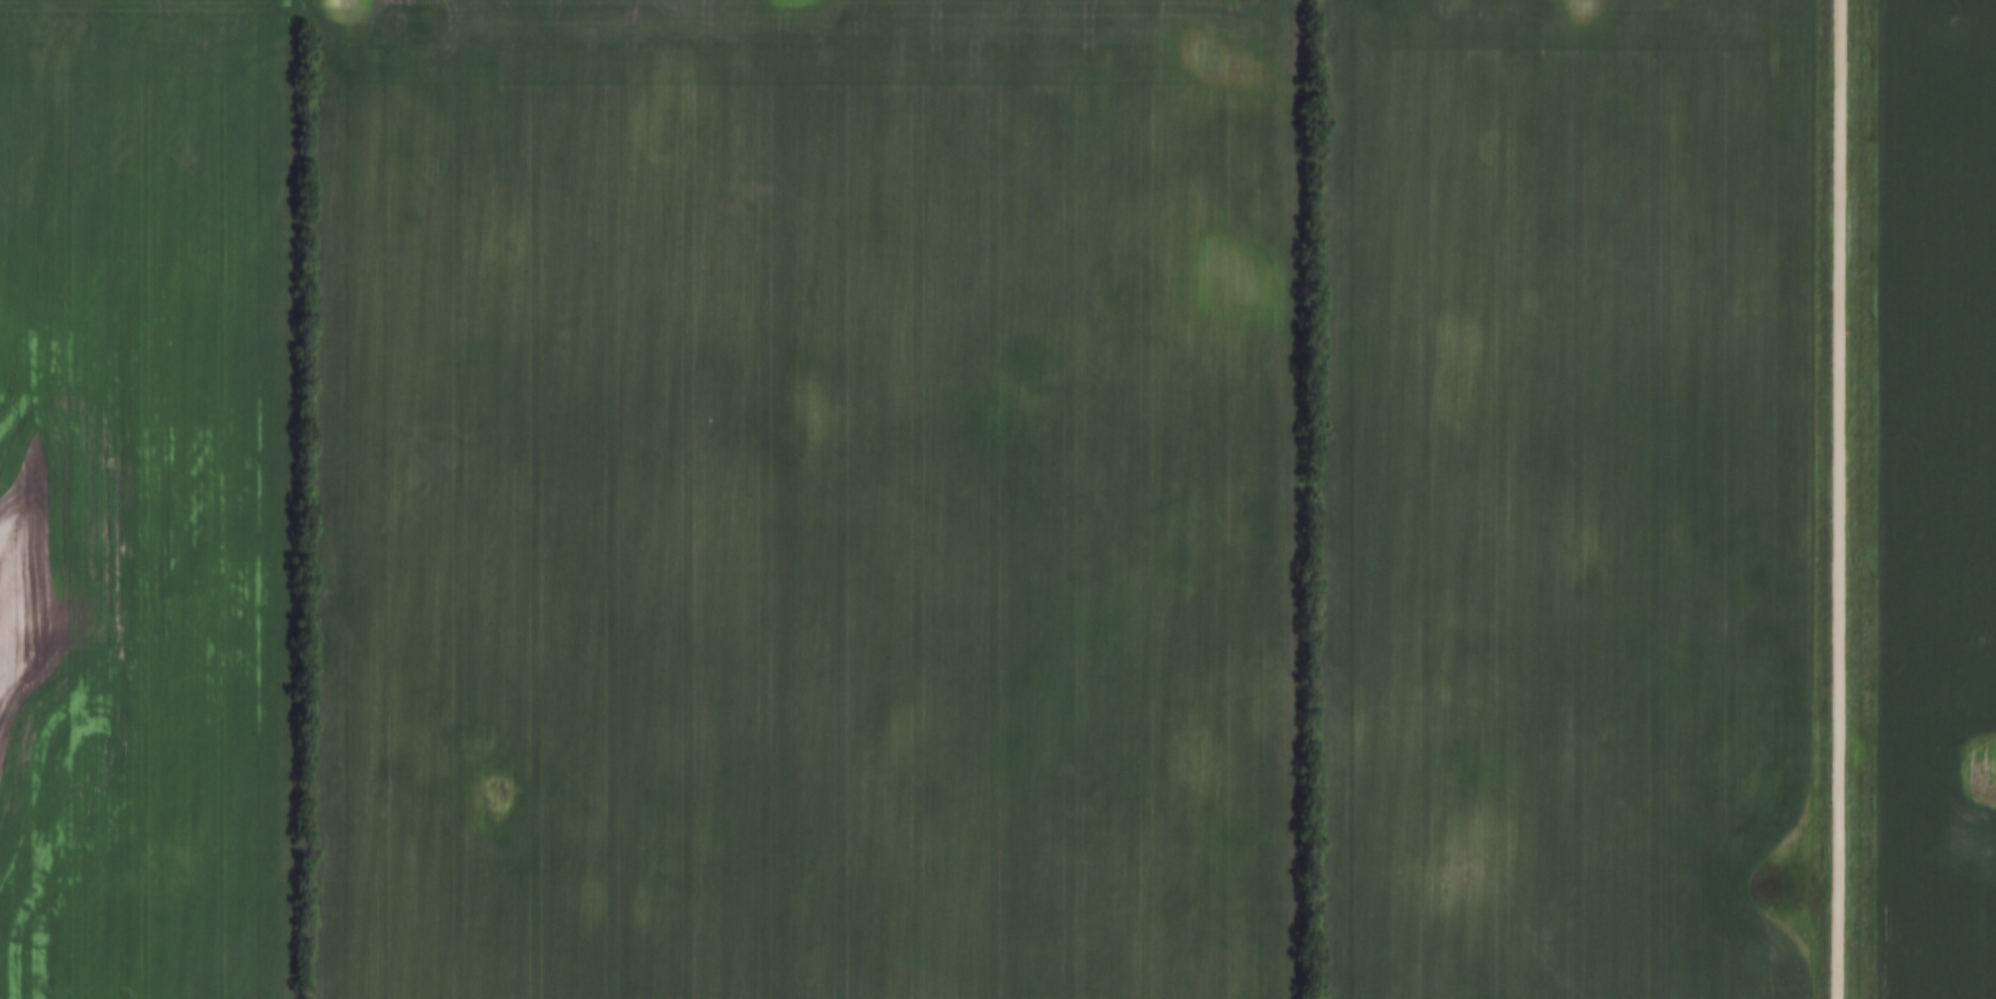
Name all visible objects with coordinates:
road: (1839, 499)

